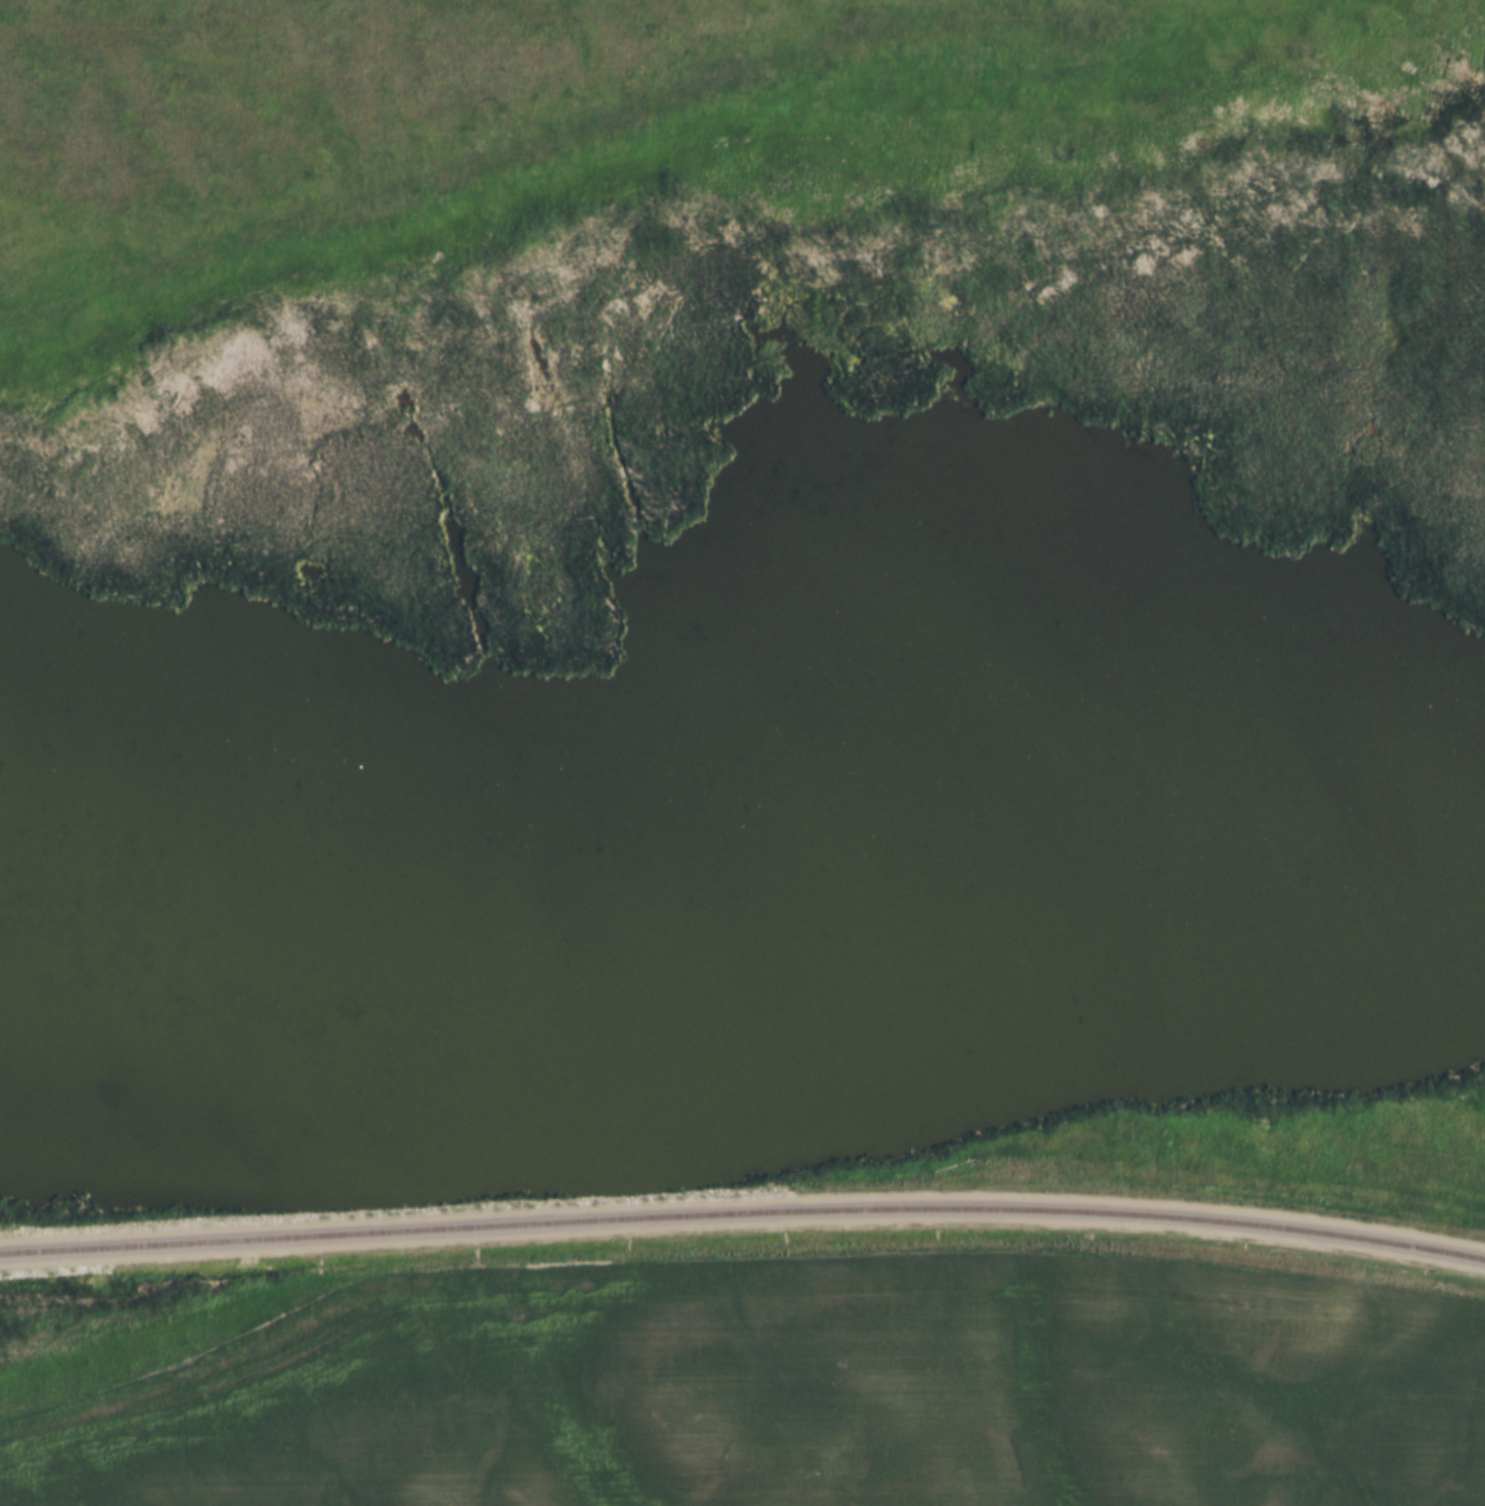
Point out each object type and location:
railway: (743, 1215)

